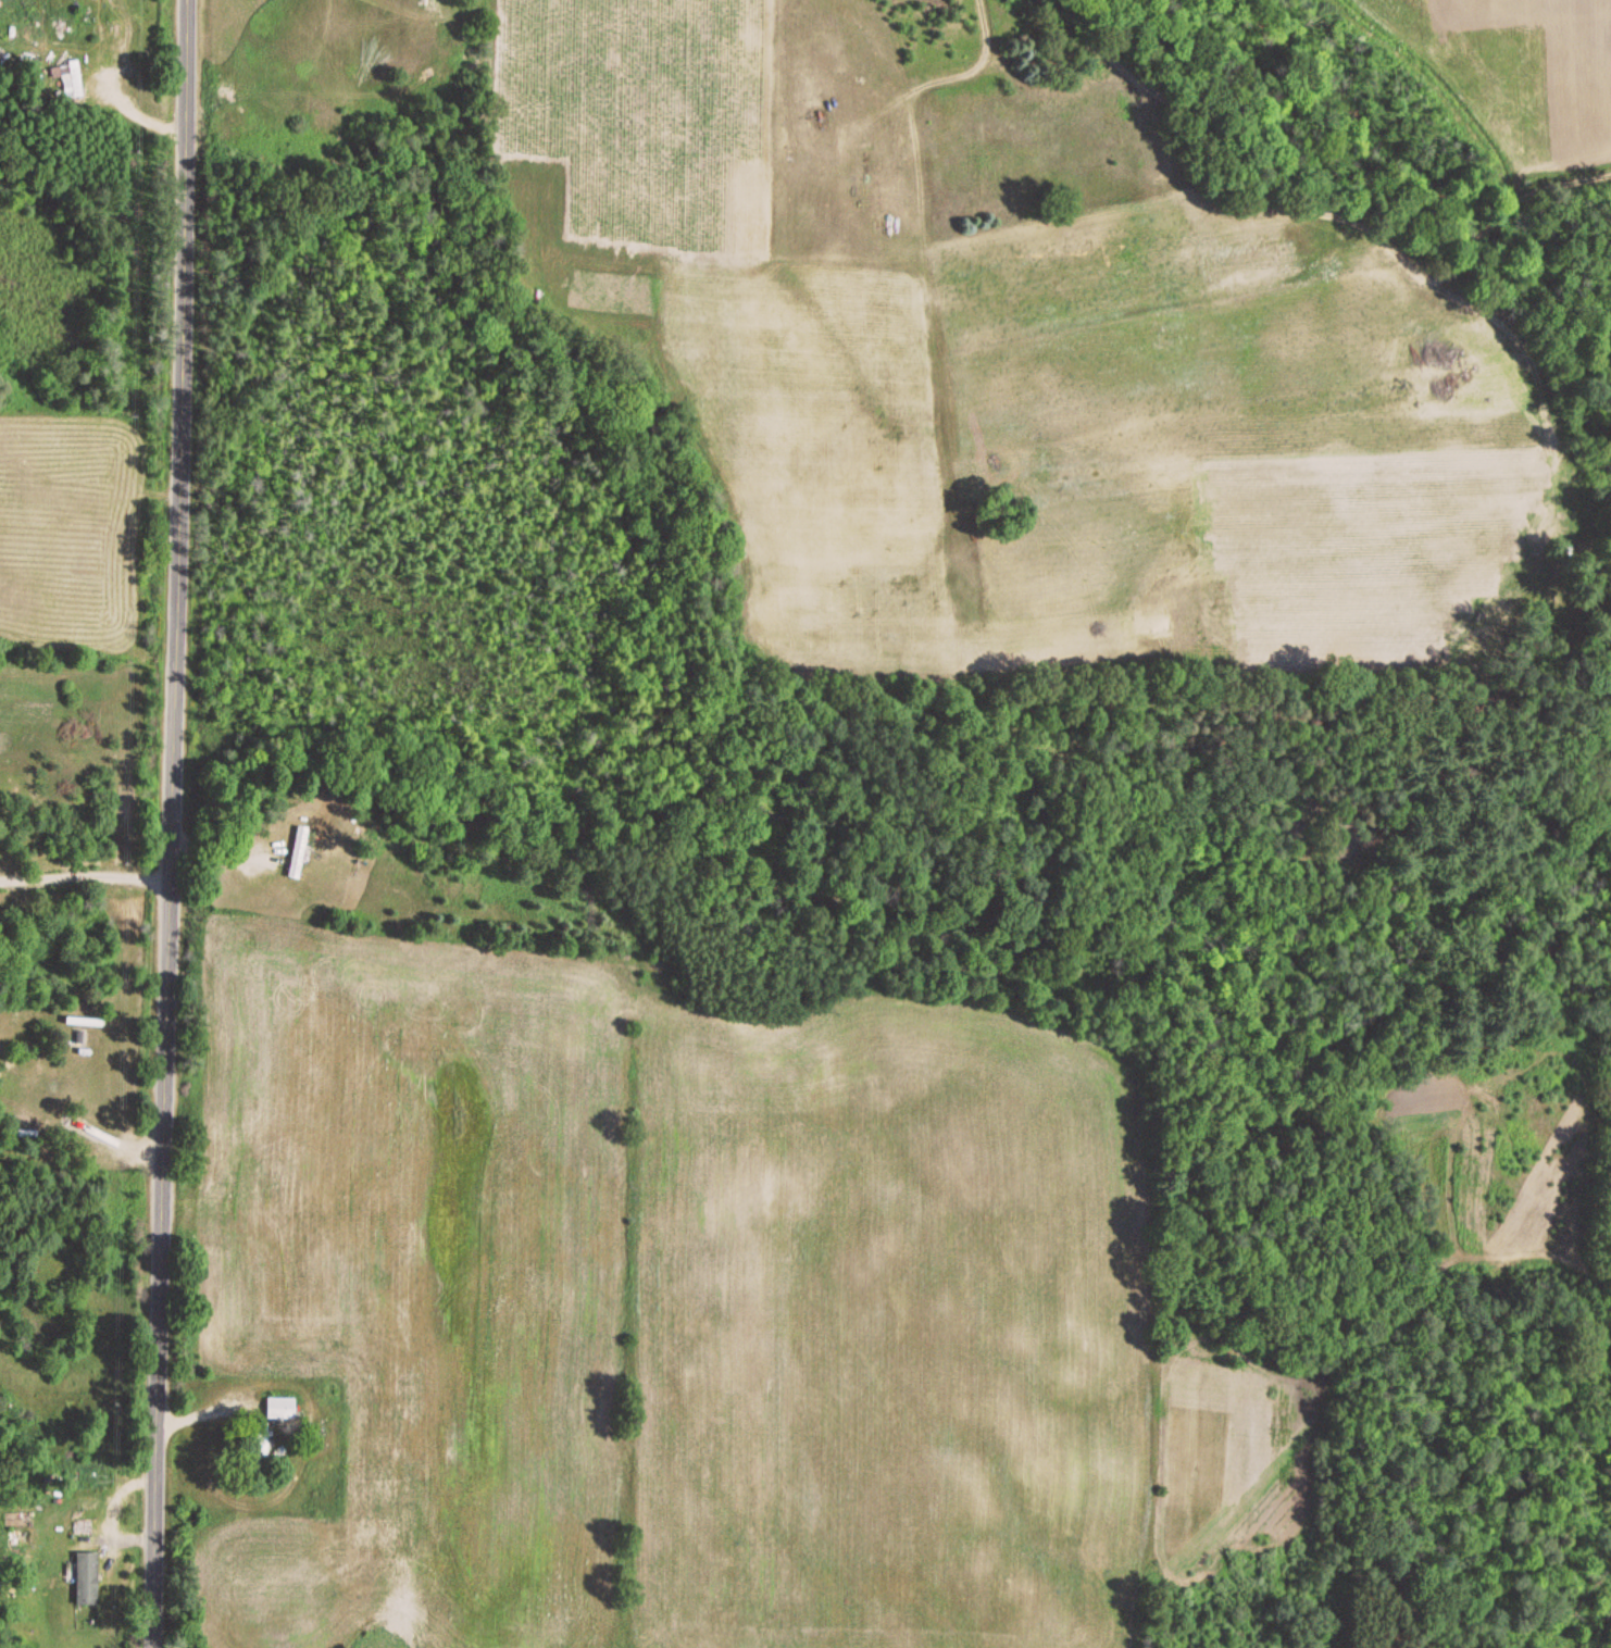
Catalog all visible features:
building: (0, 0)
building: (67, 80)
road: (171, 824)
building: (296, 854)
building: (284, 1407)
building: (90, 1576)

